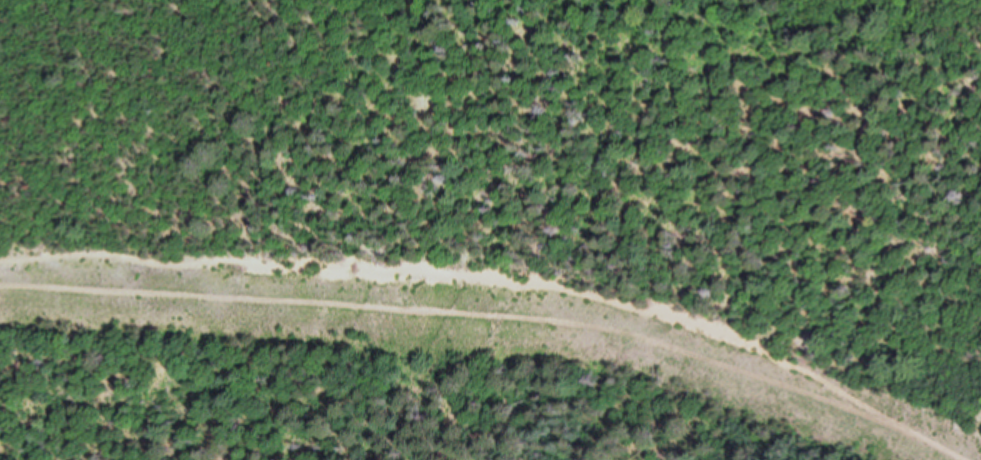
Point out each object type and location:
road: (509, 273)

